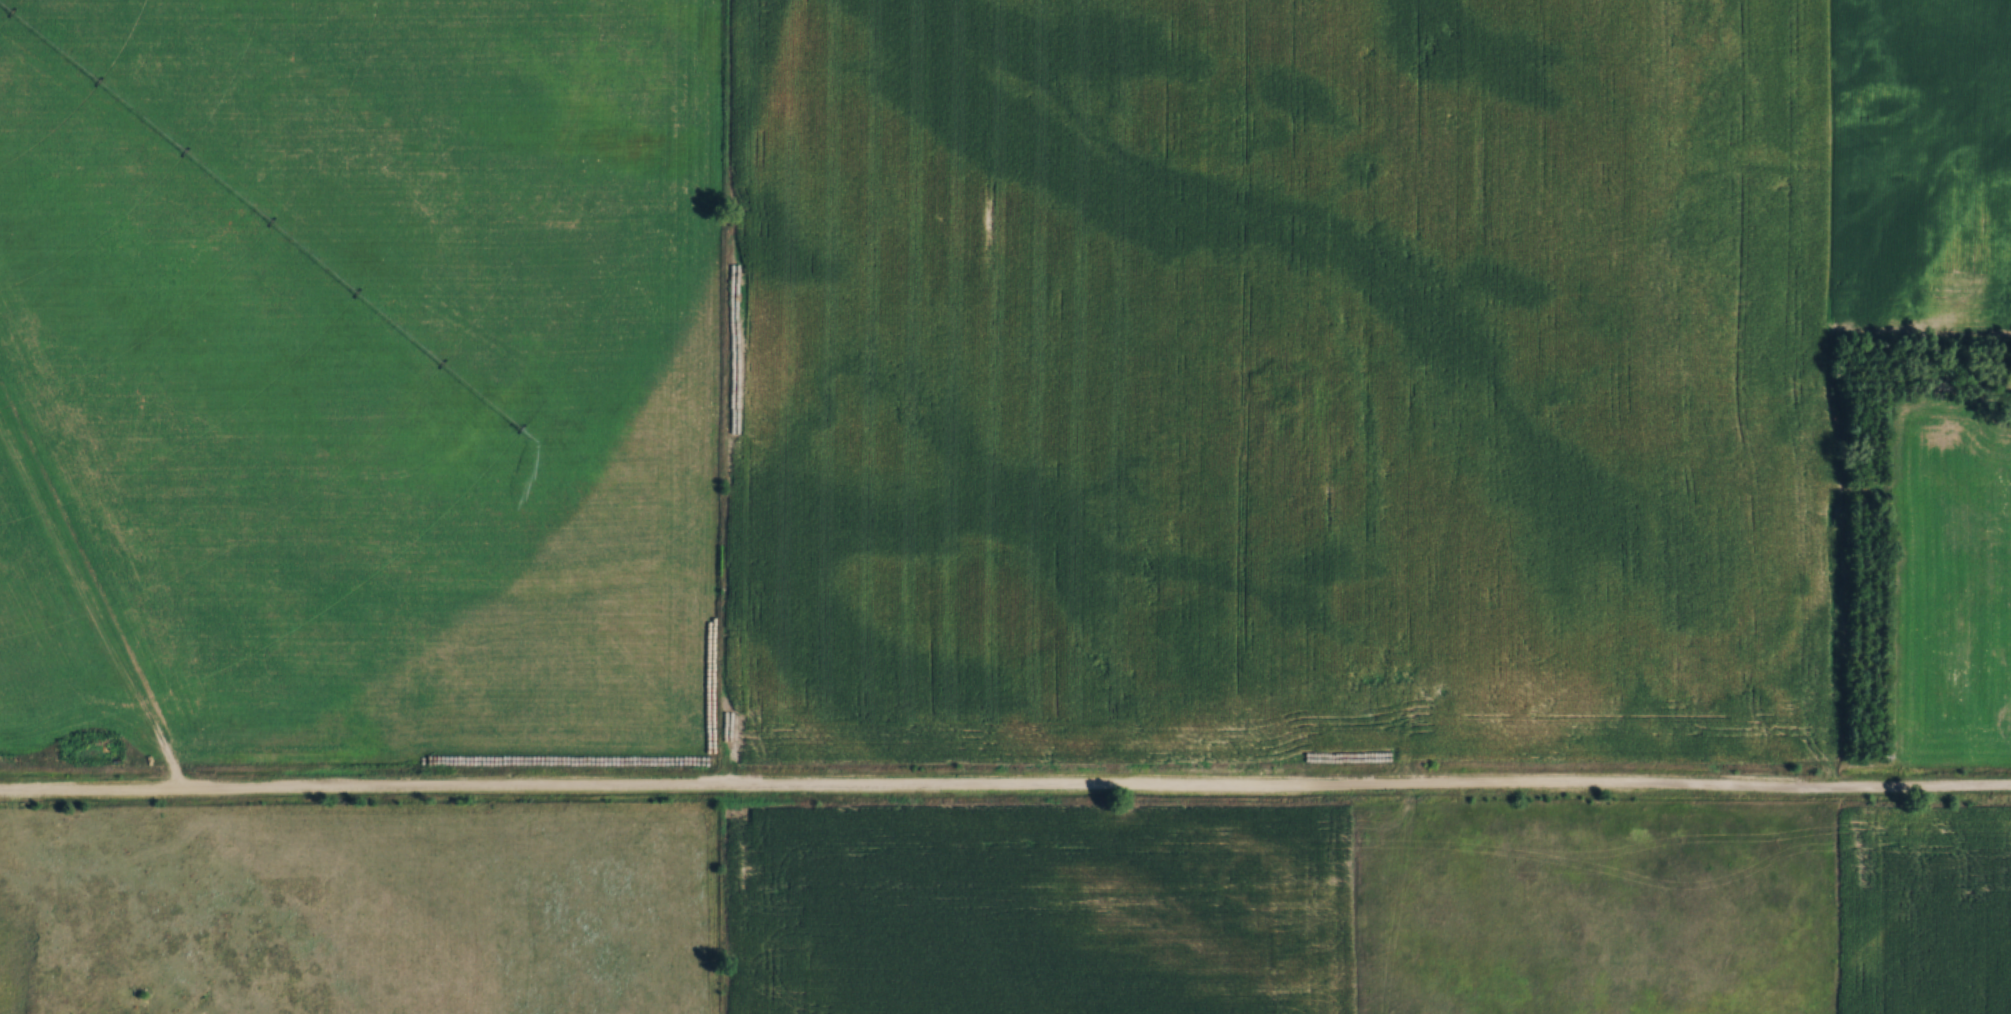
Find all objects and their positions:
building: (2010, 488)
road: (1833, 599)
road: (1005, 787)

